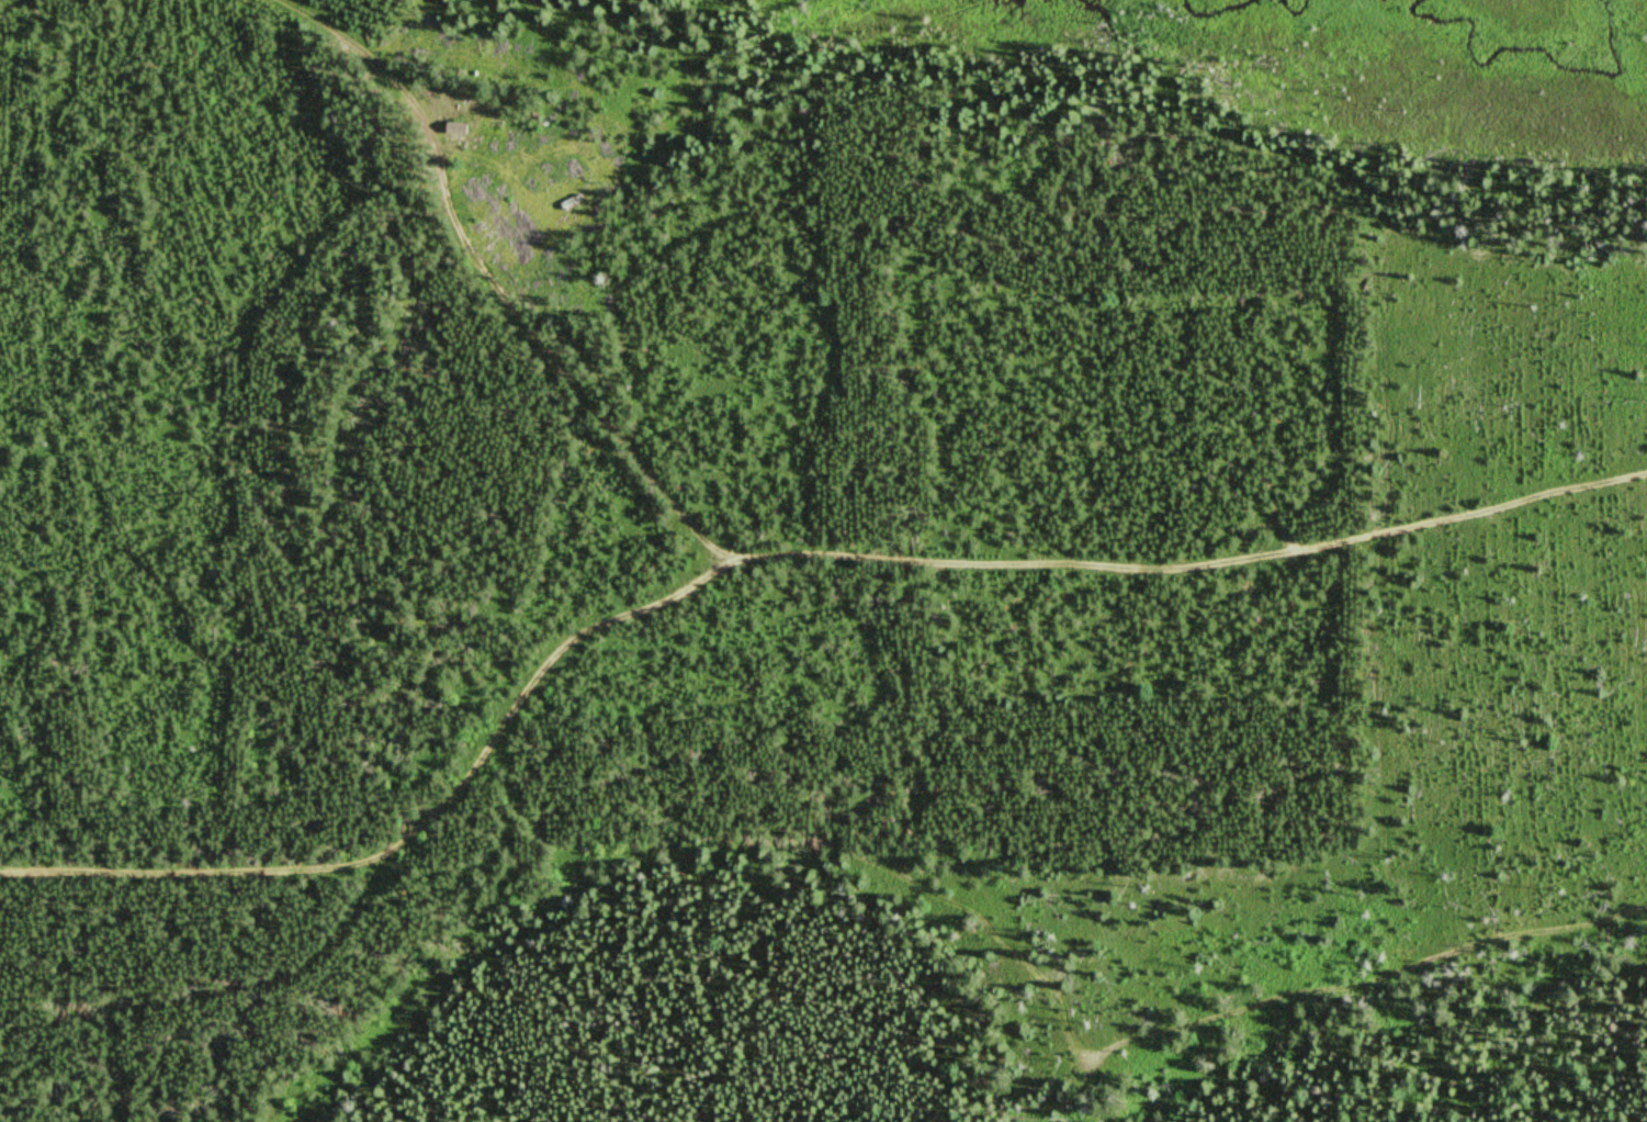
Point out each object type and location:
building: (459, 128)
road: (486, 273)
road: (1188, 563)
road: (409, 829)
road: (1360, 963)

